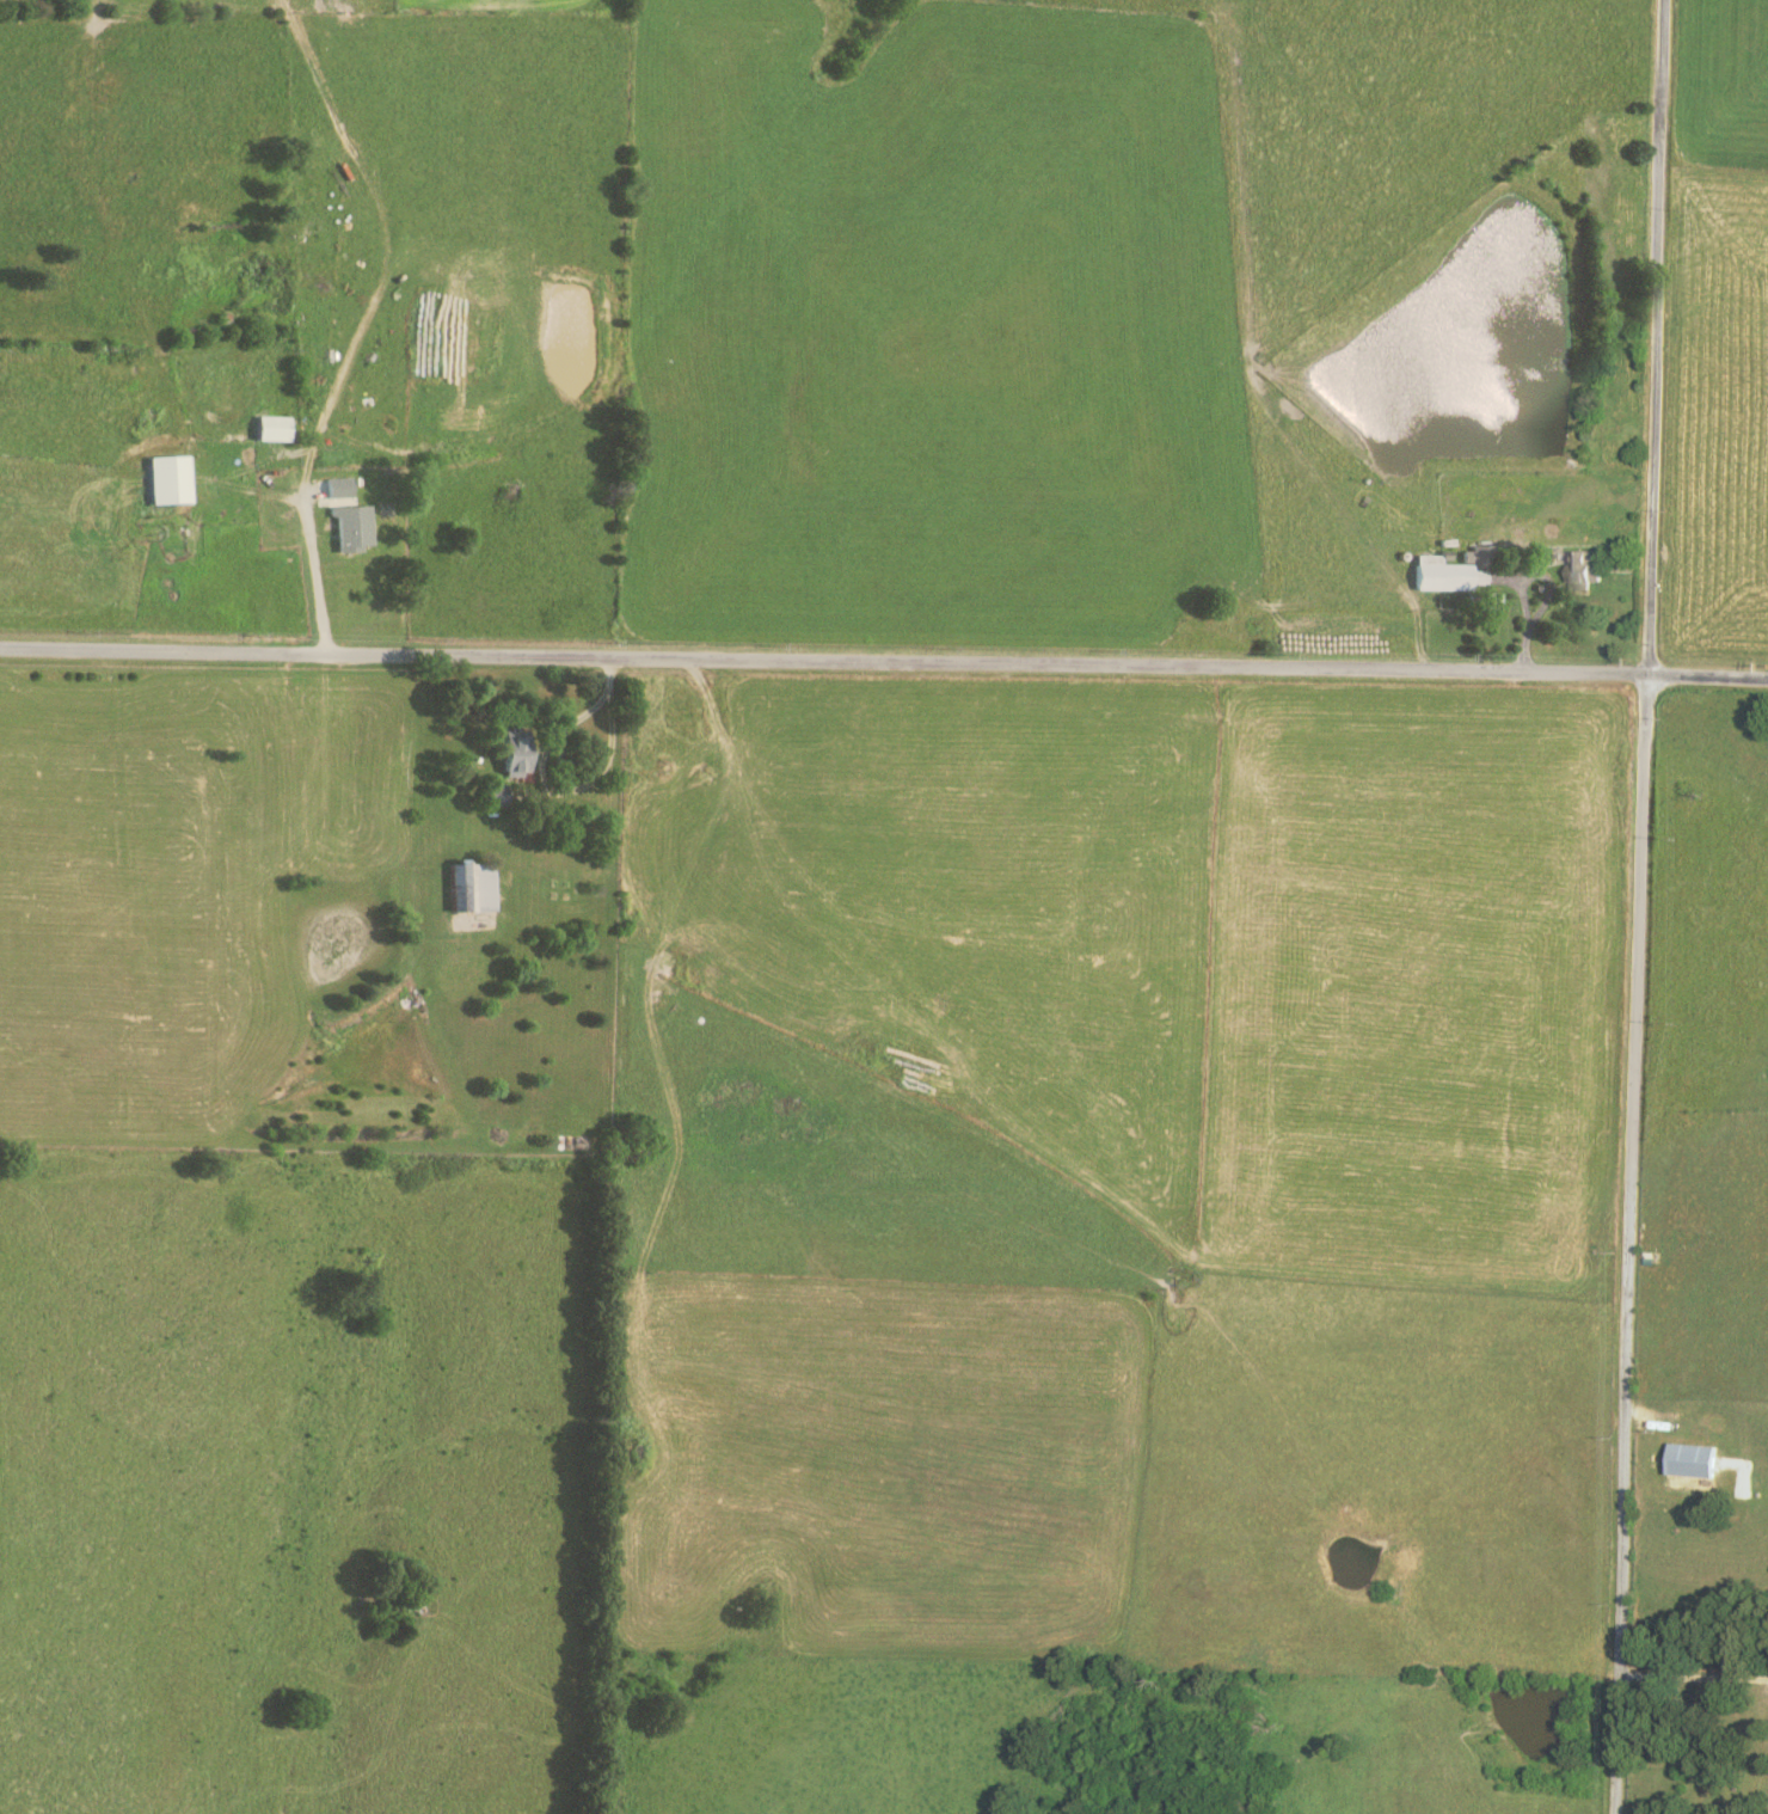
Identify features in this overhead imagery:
road: (1653, 339)
building: (265, 428)
building: (162, 479)
building: (334, 486)
building: (346, 528)
building: (1447, 571)
building: (1576, 571)
road: (318, 578)
building: (1488, 601)
road: (884, 666)
road: (608, 747)
building: (504, 755)
building: (487, 795)
building: (466, 888)
road: (1627, 1246)
building: (1683, 1459)
road: (1690, 1684)

